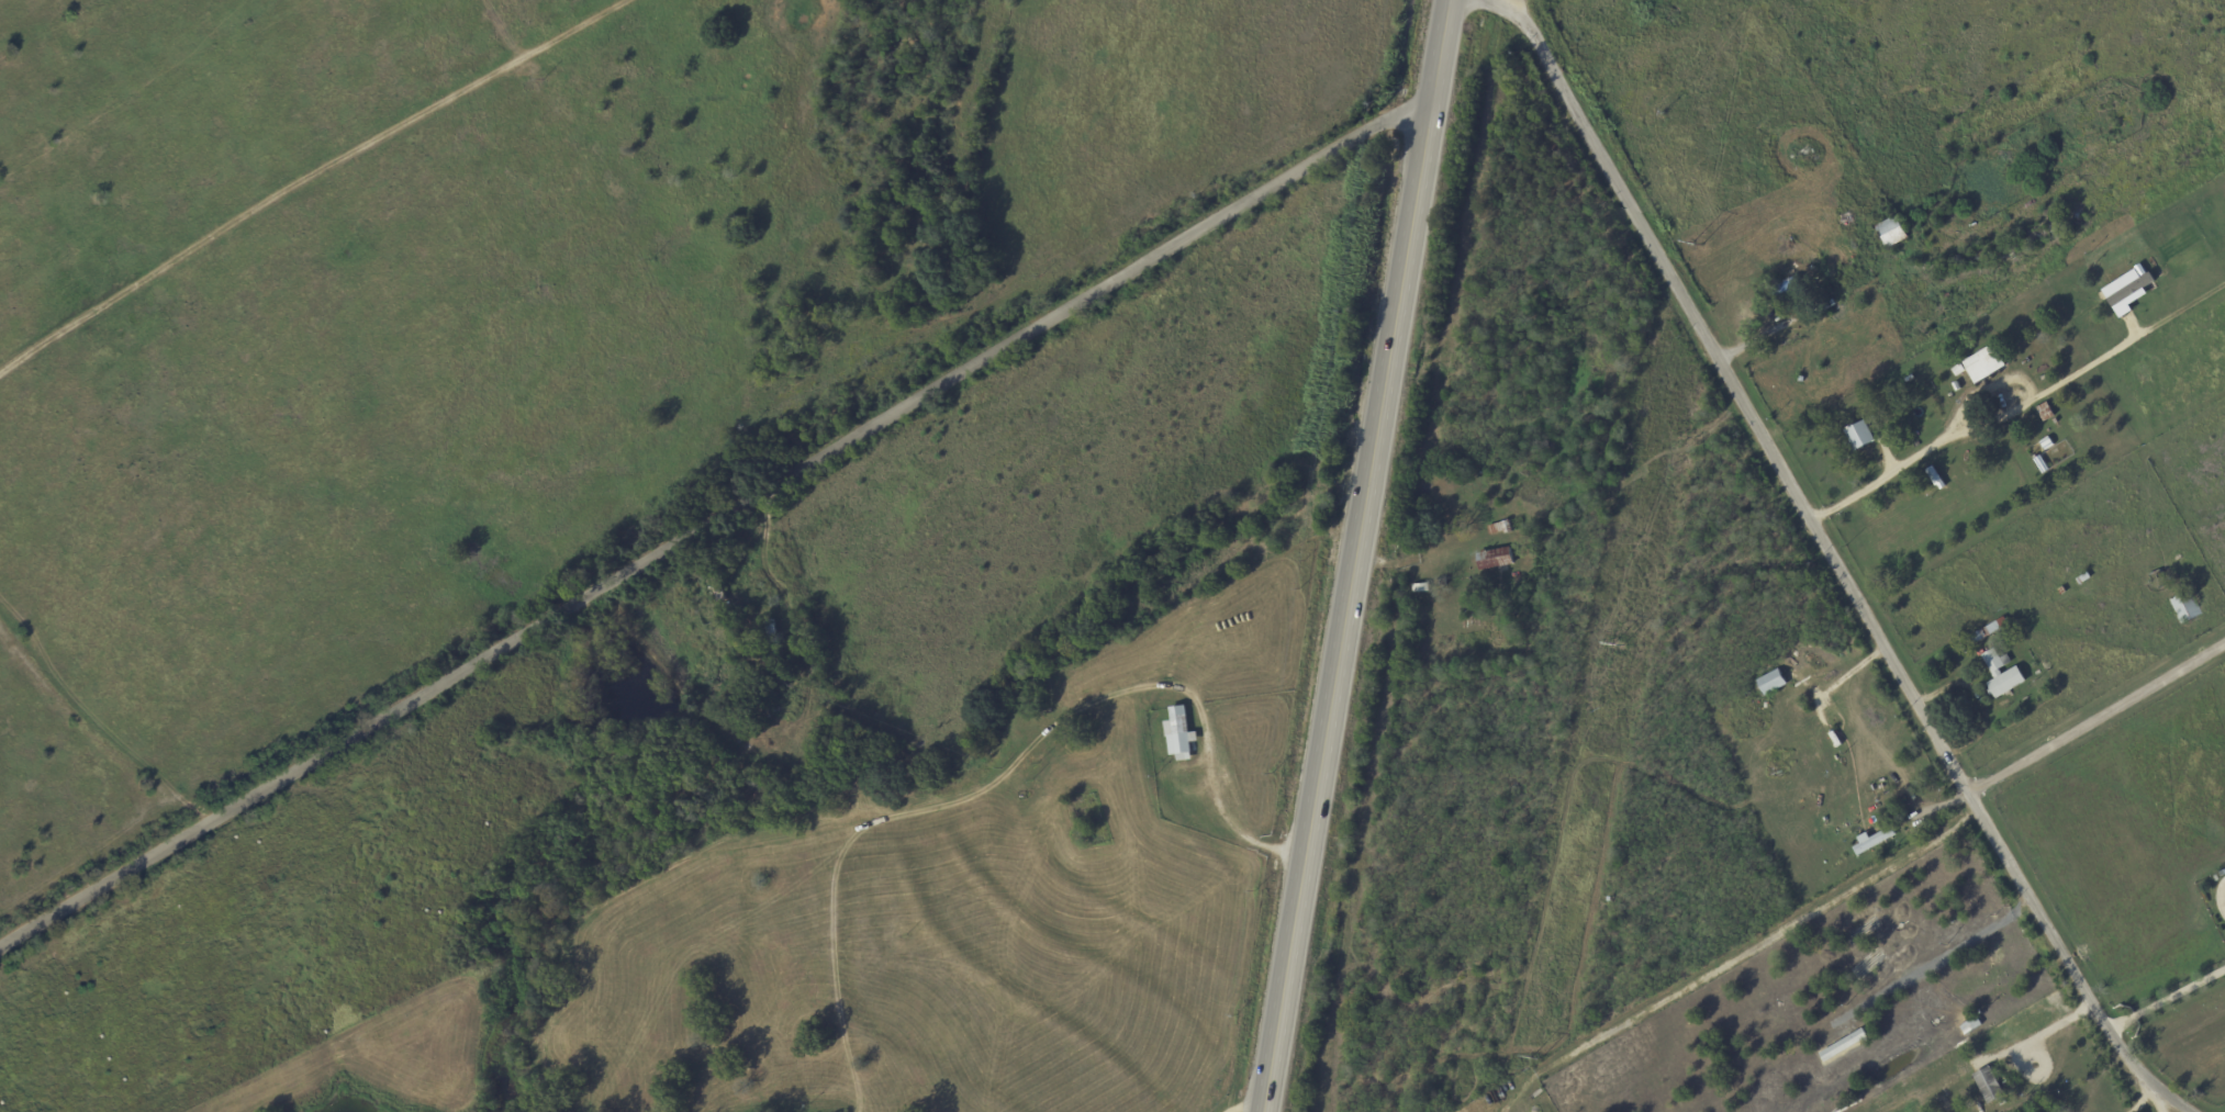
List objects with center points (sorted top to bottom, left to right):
road: (1412, 203)
building: (1892, 231)
power tower: (1696, 247)
building: (1788, 290)
building: (2128, 290)
building: (1983, 363)
road: (2060, 380)
building: (2045, 412)
building: (1860, 437)
road: (1901, 465)
road: (712, 524)
building: (1500, 528)
road: (1830, 555)
building: (1495, 559)
power tower: (1618, 644)
building: (2002, 675)
building: (1771, 682)
road: (2095, 718)
road: (96, 735)
building: (1179, 735)
road: (1320, 760)
building: (1874, 840)
road: (2165, 997)
road: (2038, 1033)
building: (1844, 1046)
power tower: (1536, 1057)
building: (1988, 1085)
road: (2144, 1099)
road: (2159, 1100)
road: (1250, 1107)

